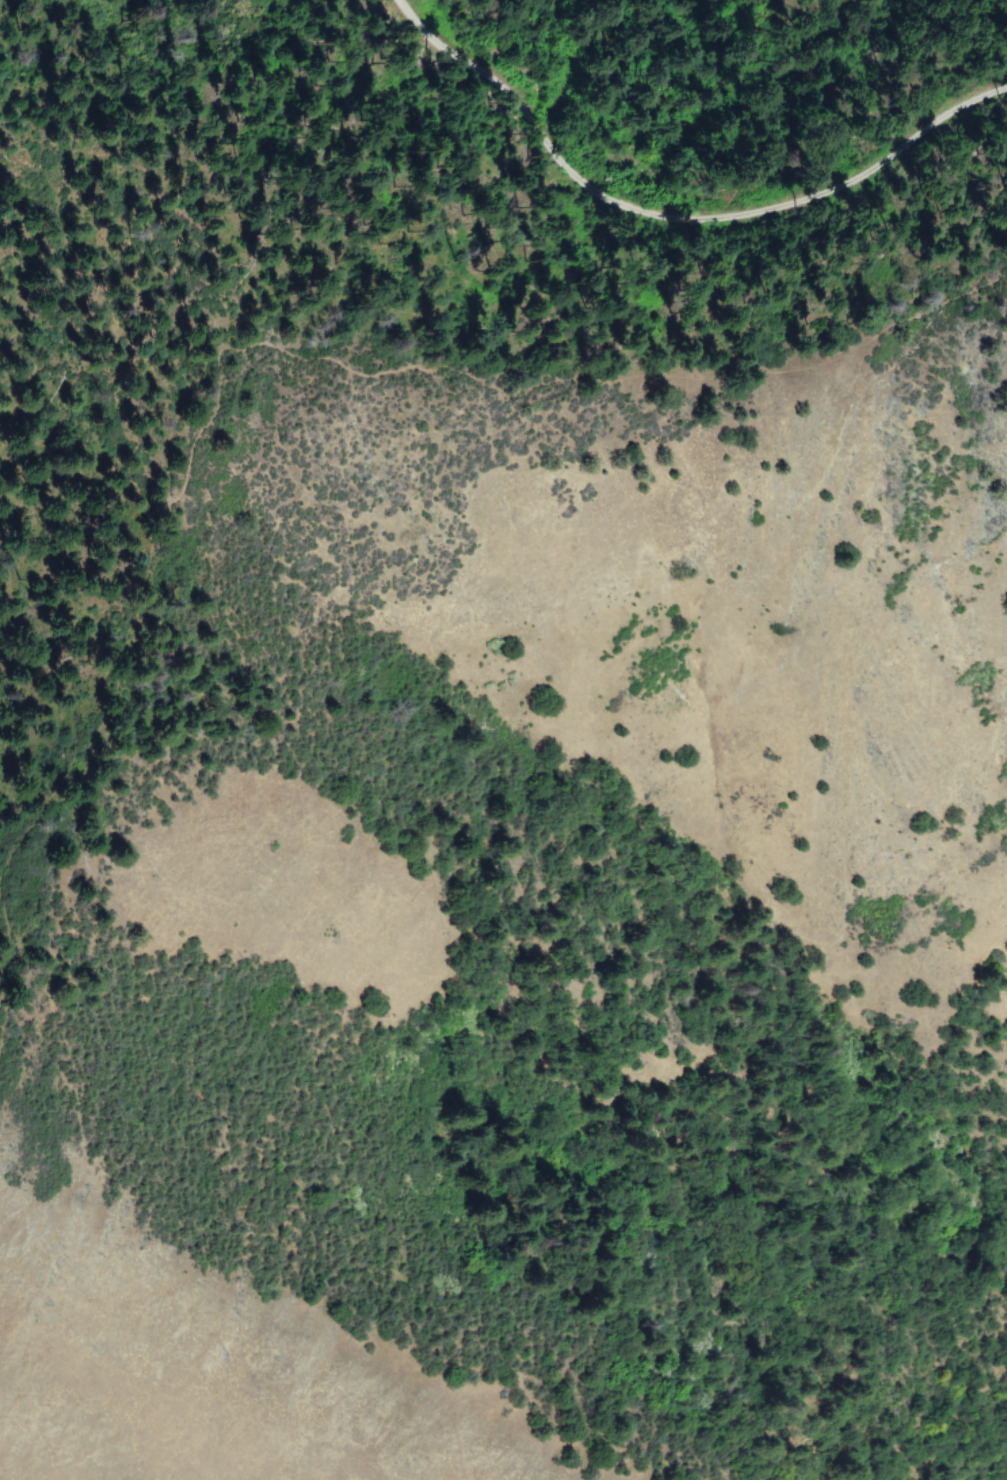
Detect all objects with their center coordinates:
road: (686, 170)

